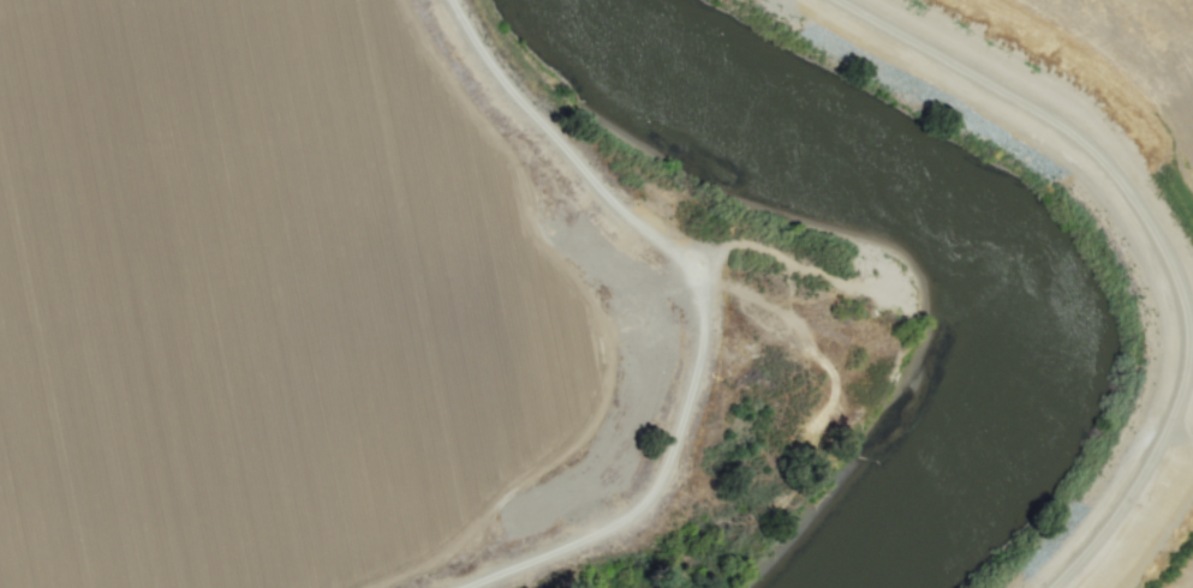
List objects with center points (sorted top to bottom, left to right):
crop: (1073, 206)
river: (960, 218)
road: (587, 298)
road: (1150, 494)

